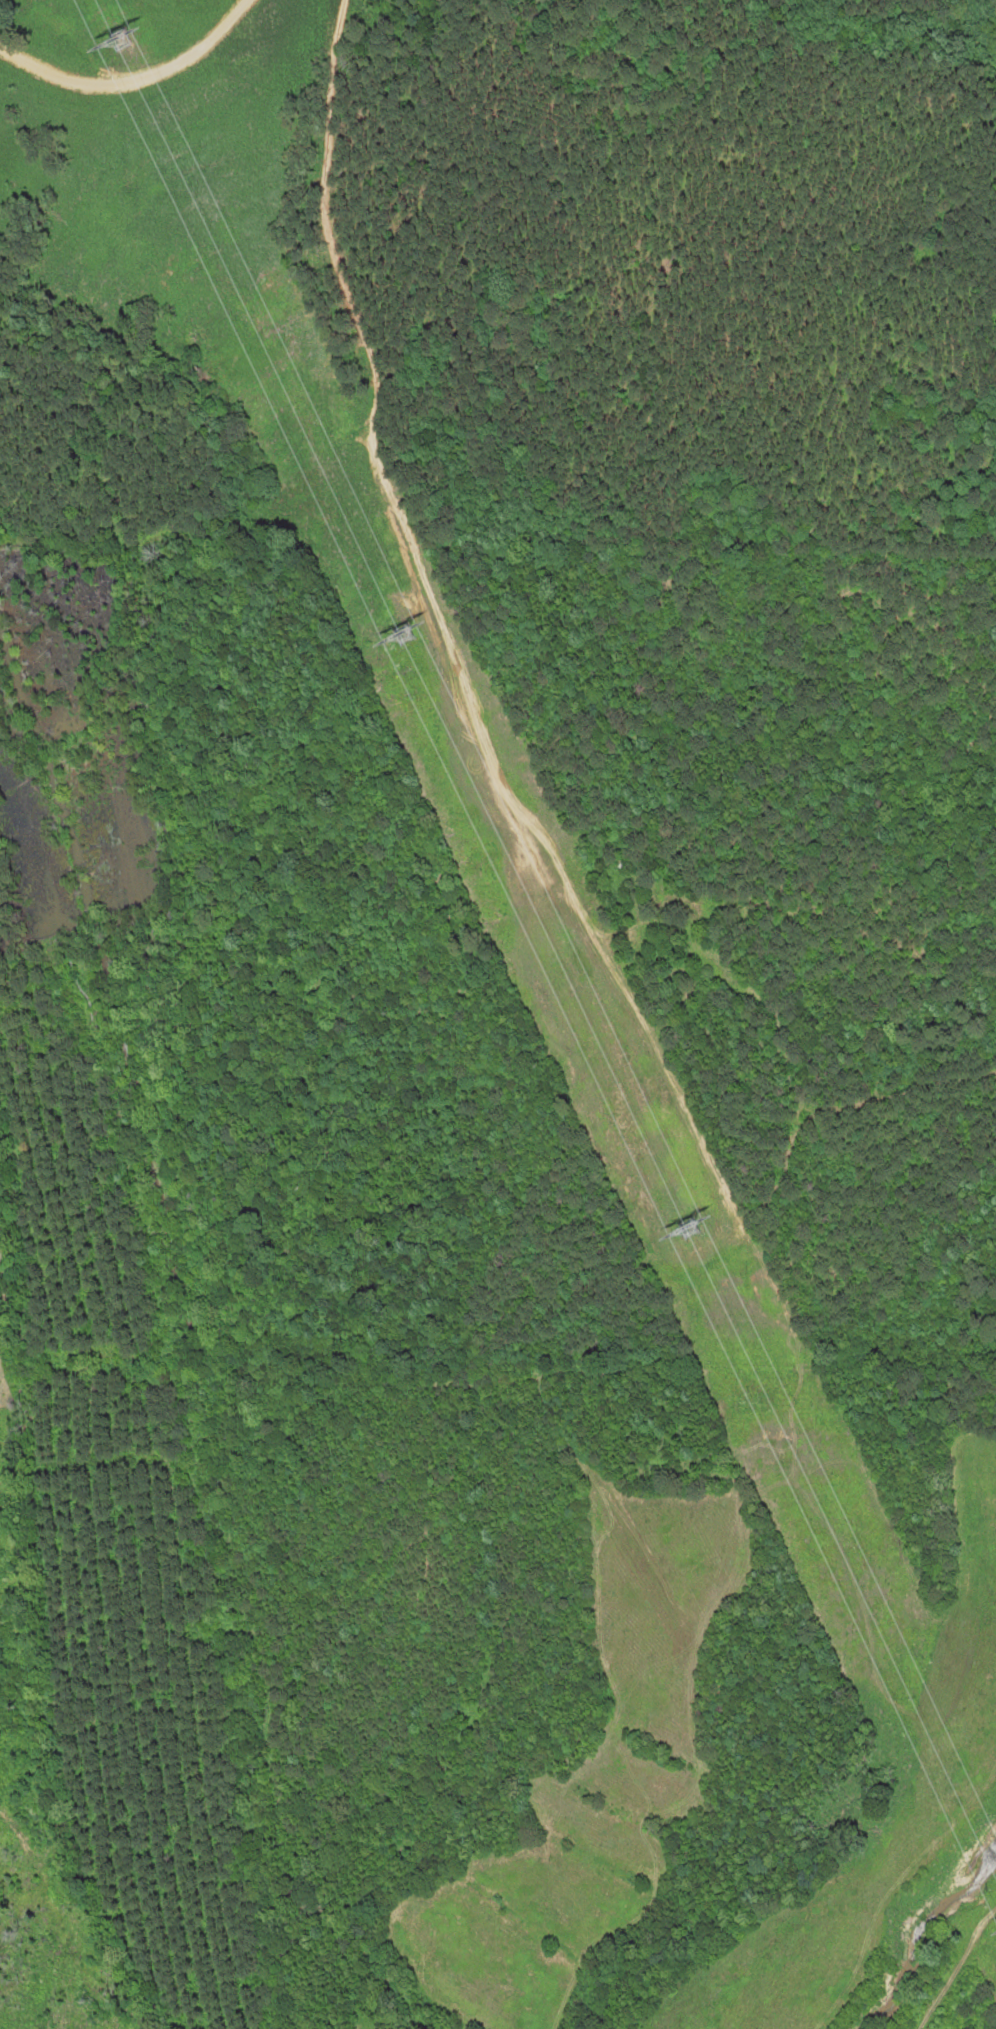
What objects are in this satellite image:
road: (131, 84)
power tower: (387, 646)
power tower: (675, 1216)

